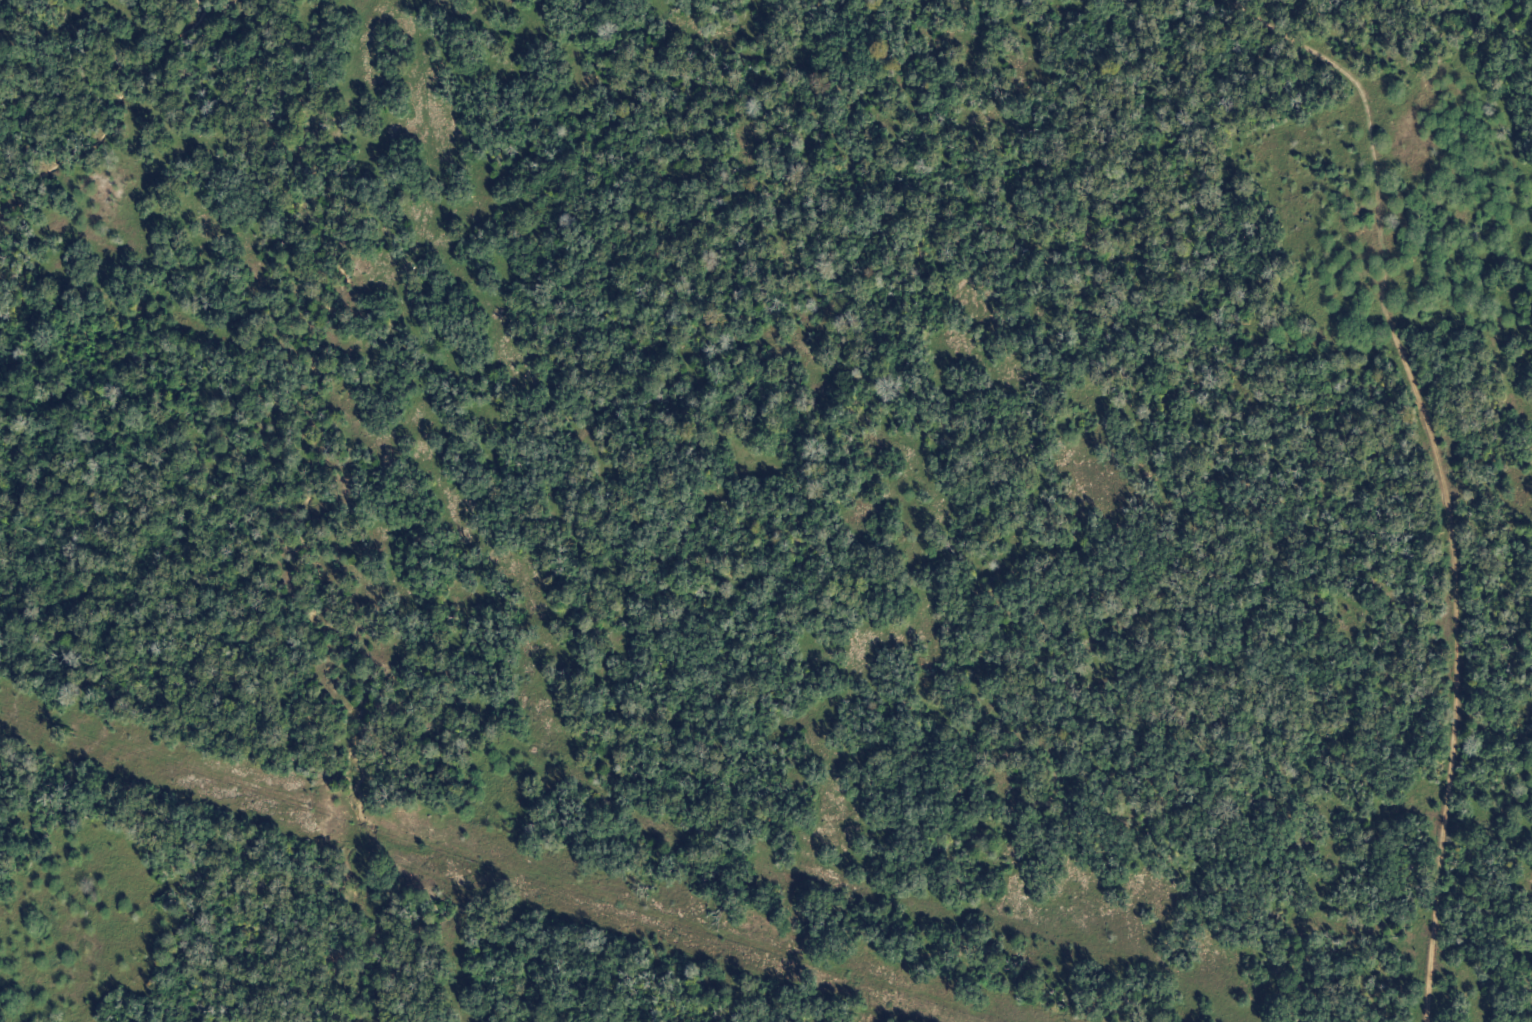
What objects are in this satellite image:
road: (1472, 632)

